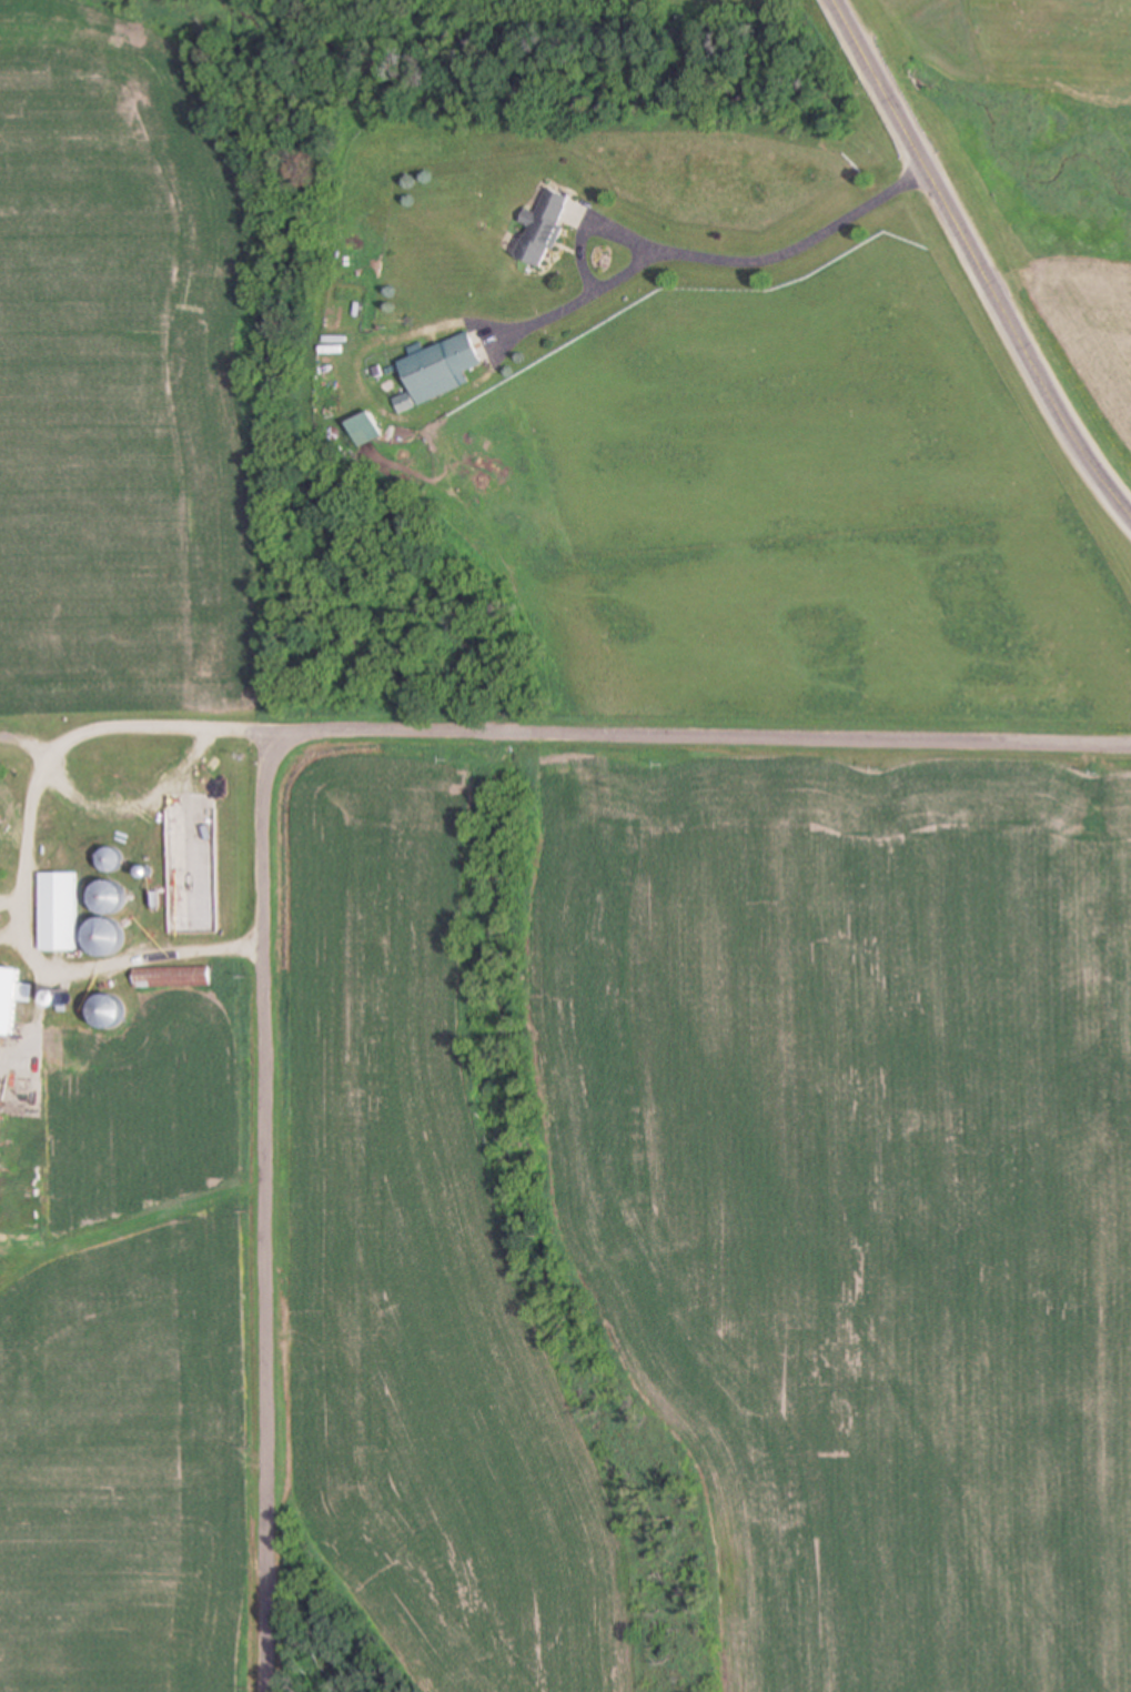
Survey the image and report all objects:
building: (544, 228)
road: (699, 255)
road: (979, 256)
building: (440, 372)
building: (366, 430)
road: (188, 721)
road: (701, 735)
road: (71, 737)
building: (59, 913)
building: (103, 920)
road: (47, 964)
building: (171, 983)
building: (11, 999)
building: (107, 1014)
road: (263, 1207)

